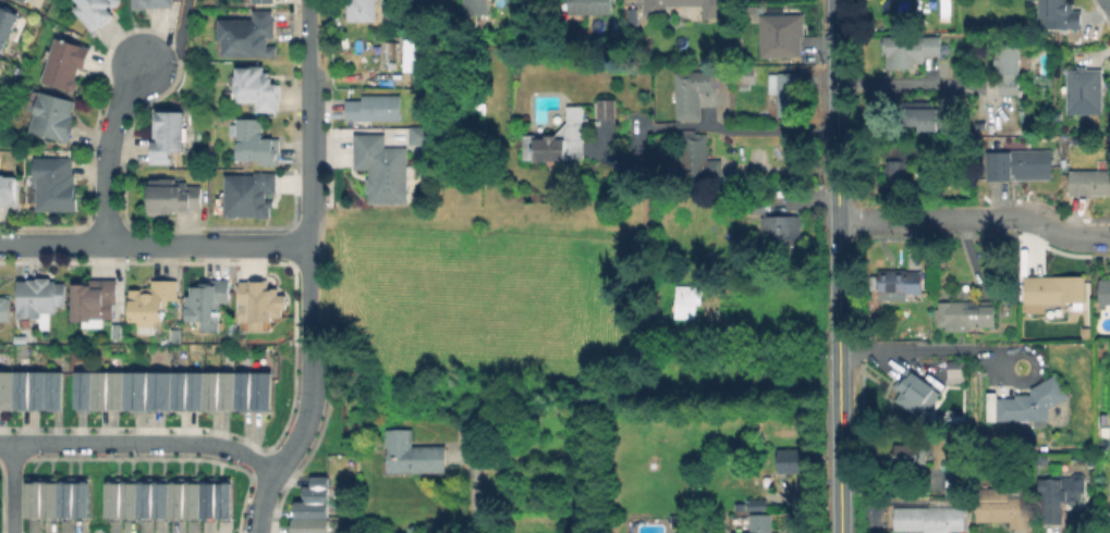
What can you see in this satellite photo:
building: (24, 0)
building: (266, 1)
building: (151, 3)
road: (1107, 4)
building: (475, 7)
building: (588, 8)
building: (756, 9)
building: (362, 10)
building: (713, 11)
building: (96, 12)
building: (1061, 13)
building: (5, 26)
building: (781, 26)
building: (247, 36)
road: (178, 44)
building: (910, 49)
building: (414, 57)
building: (65, 63)
building: (1009, 70)
building: (744, 74)
road: (908, 80)
building: (252, 88)
building: (691, 90)
building: (786, 90)
building: (1085, 92)
rooftop solar panel: (539, 104)
building: (607, 108)
building: (375, 109)
building: (52, 116)
building: (916, 116)
building: (978, 125)
road: (731, 129)
building: (166, 137)
building: (418, 137)
building: (558, 139)
building: (256, 142)
road: (109, 150)
building: (698, 158)
building: (1020, 165)
building: (382, 170)
building: (895, 172)
building: (57, 184)
building: (1089, 184)
road: (309, 186)
building: (7, 193)
building: (246, 194)
building: (174, 199)
road: (912, 219)
road: (1048, 227)
building: (777, 236)
road: (155, 245)
road: (837, 265)
building: (899, 283)
building: (1053, 290)
building: (1103, 293)
building: (41, 298)
building: (95, 299)
building: (207, 300)
building: (688, 300)
building: (154, 302)
building: (260, 303)
building: (4, 309)
building: (965, 318)
road: (772, 326)
road: (964, 352)
building: (956, 372)
building: (175, 392)
building: (32, 393)
building: (917, 394)
building: (1029, 404)
road: (139, 443)
building: (412, 453)
road: (289, 454)
building: (910, 458)
building: (790, 463)
building: (953, 480)
road: (14, 487)
road: (471, 493)
building: (60, 499)
building: (1060, 499)
building: (171, 500)
building: (1109, 500)
building: (758, 506)
building: (315, 508)
building: (1005, 508)
building: (930, 520)
building: (761, 524)

